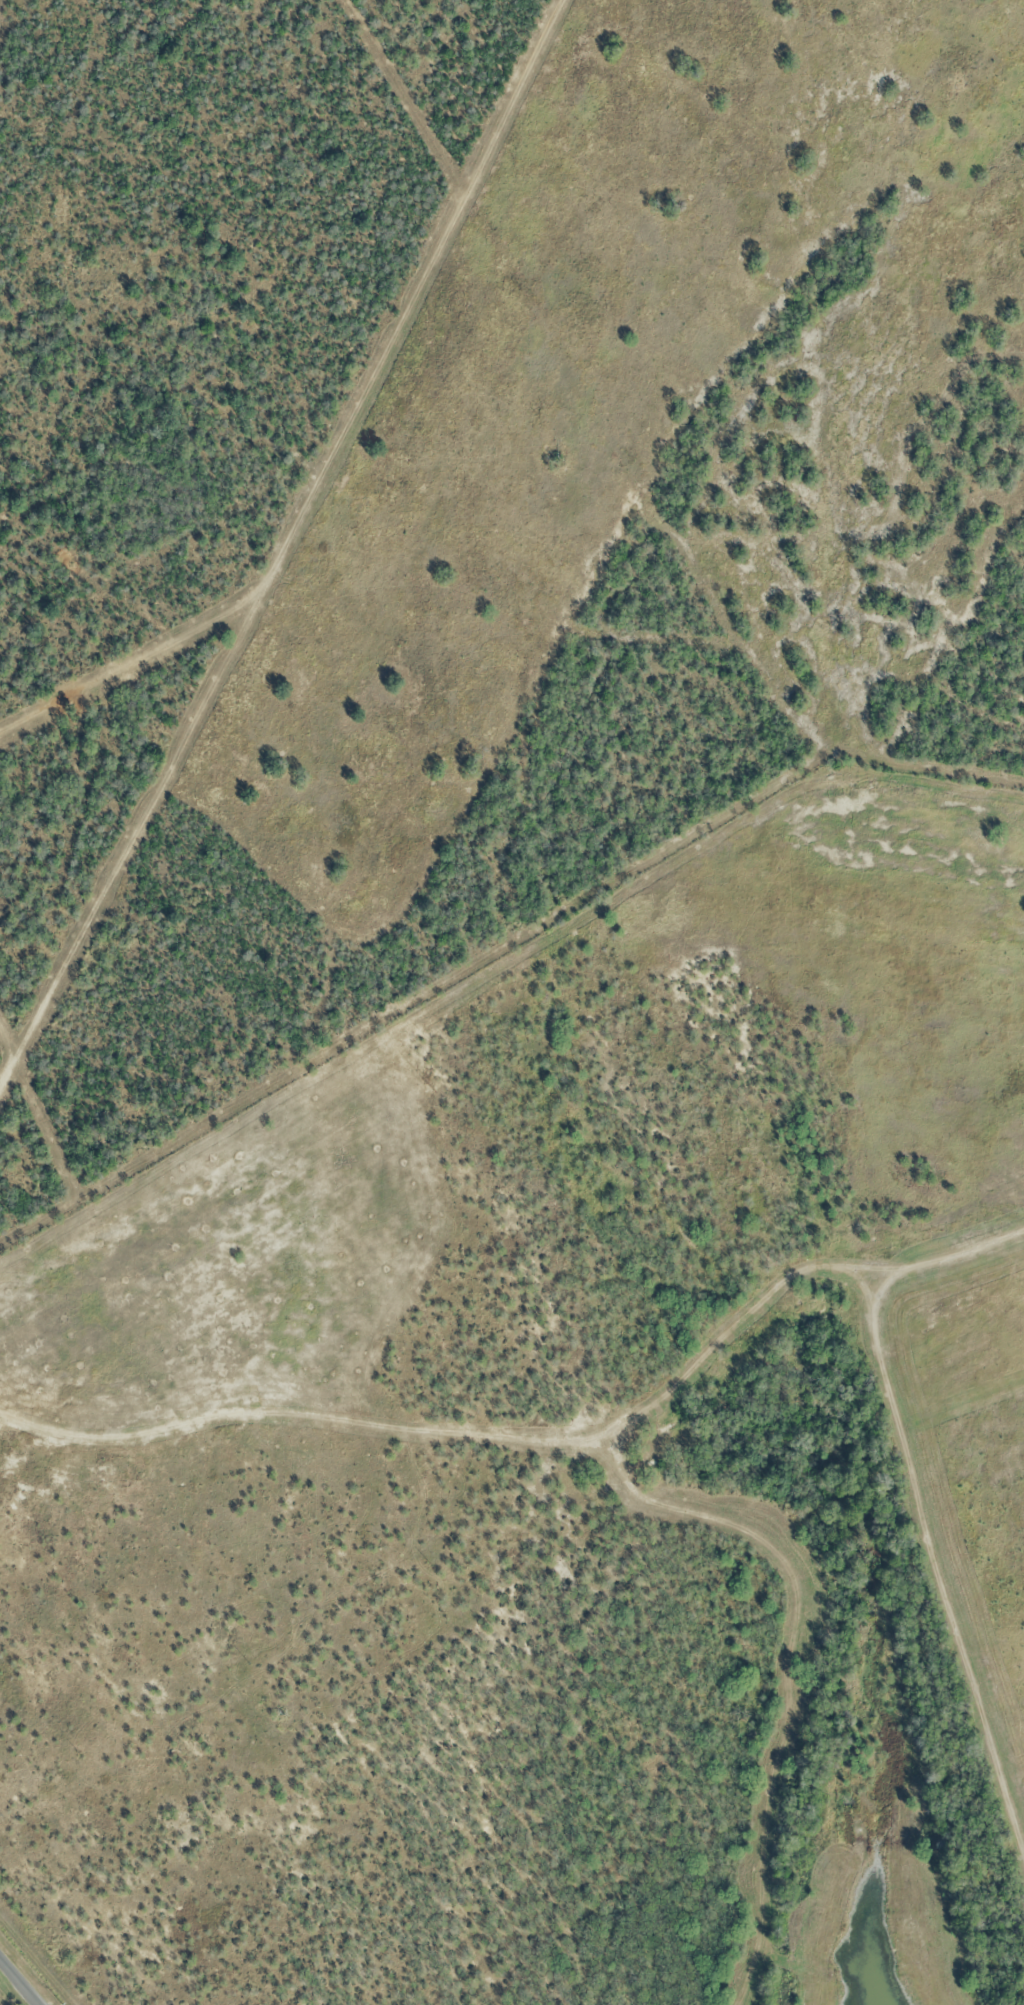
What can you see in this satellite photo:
road: (22, 1978)

